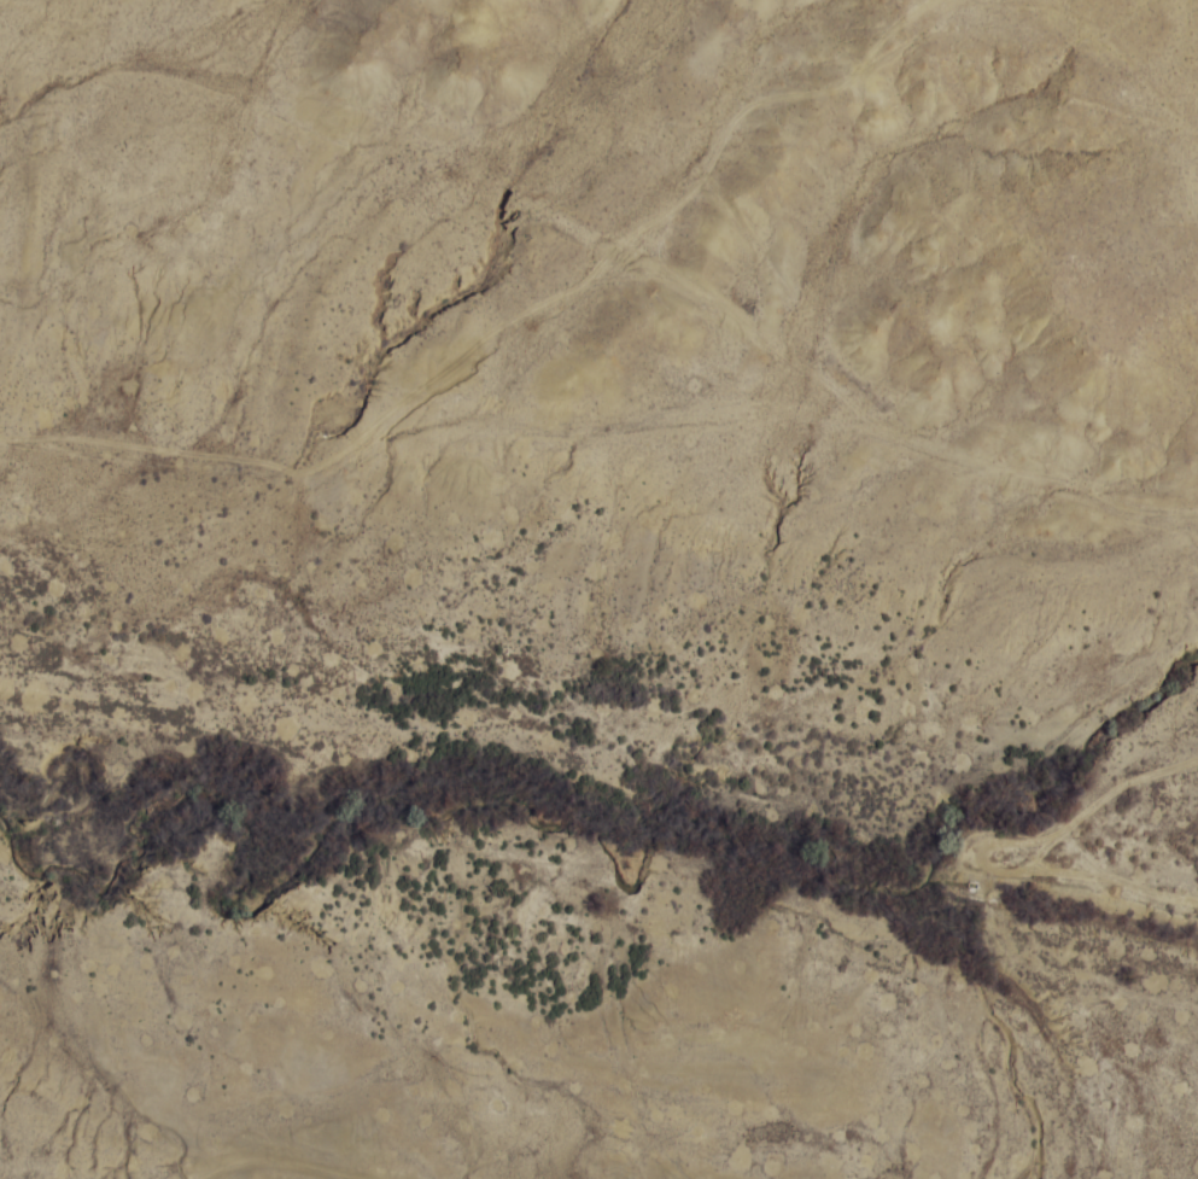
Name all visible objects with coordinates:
road: (598, 298)
river: (601, 783)
road: (444, 932)

